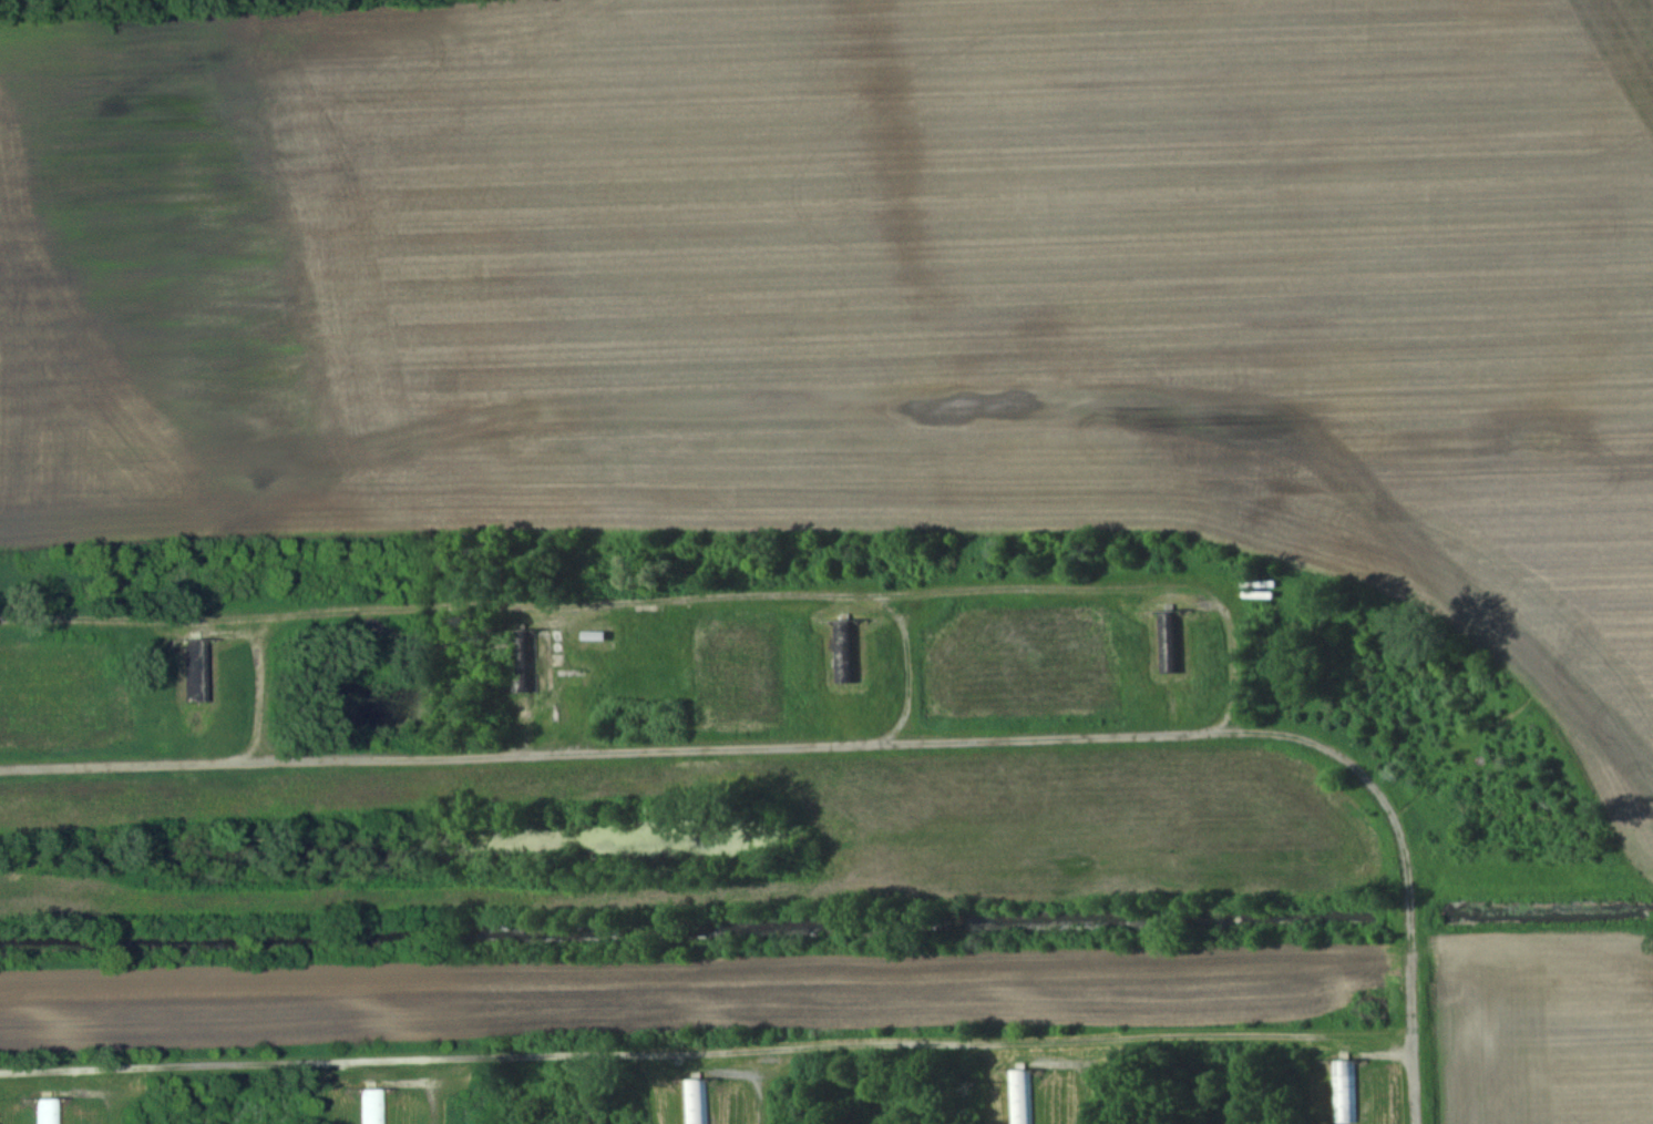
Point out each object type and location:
building: (196, 677)
road: (685, 745)
road: (1408, 920)
road: (657, 1053)

